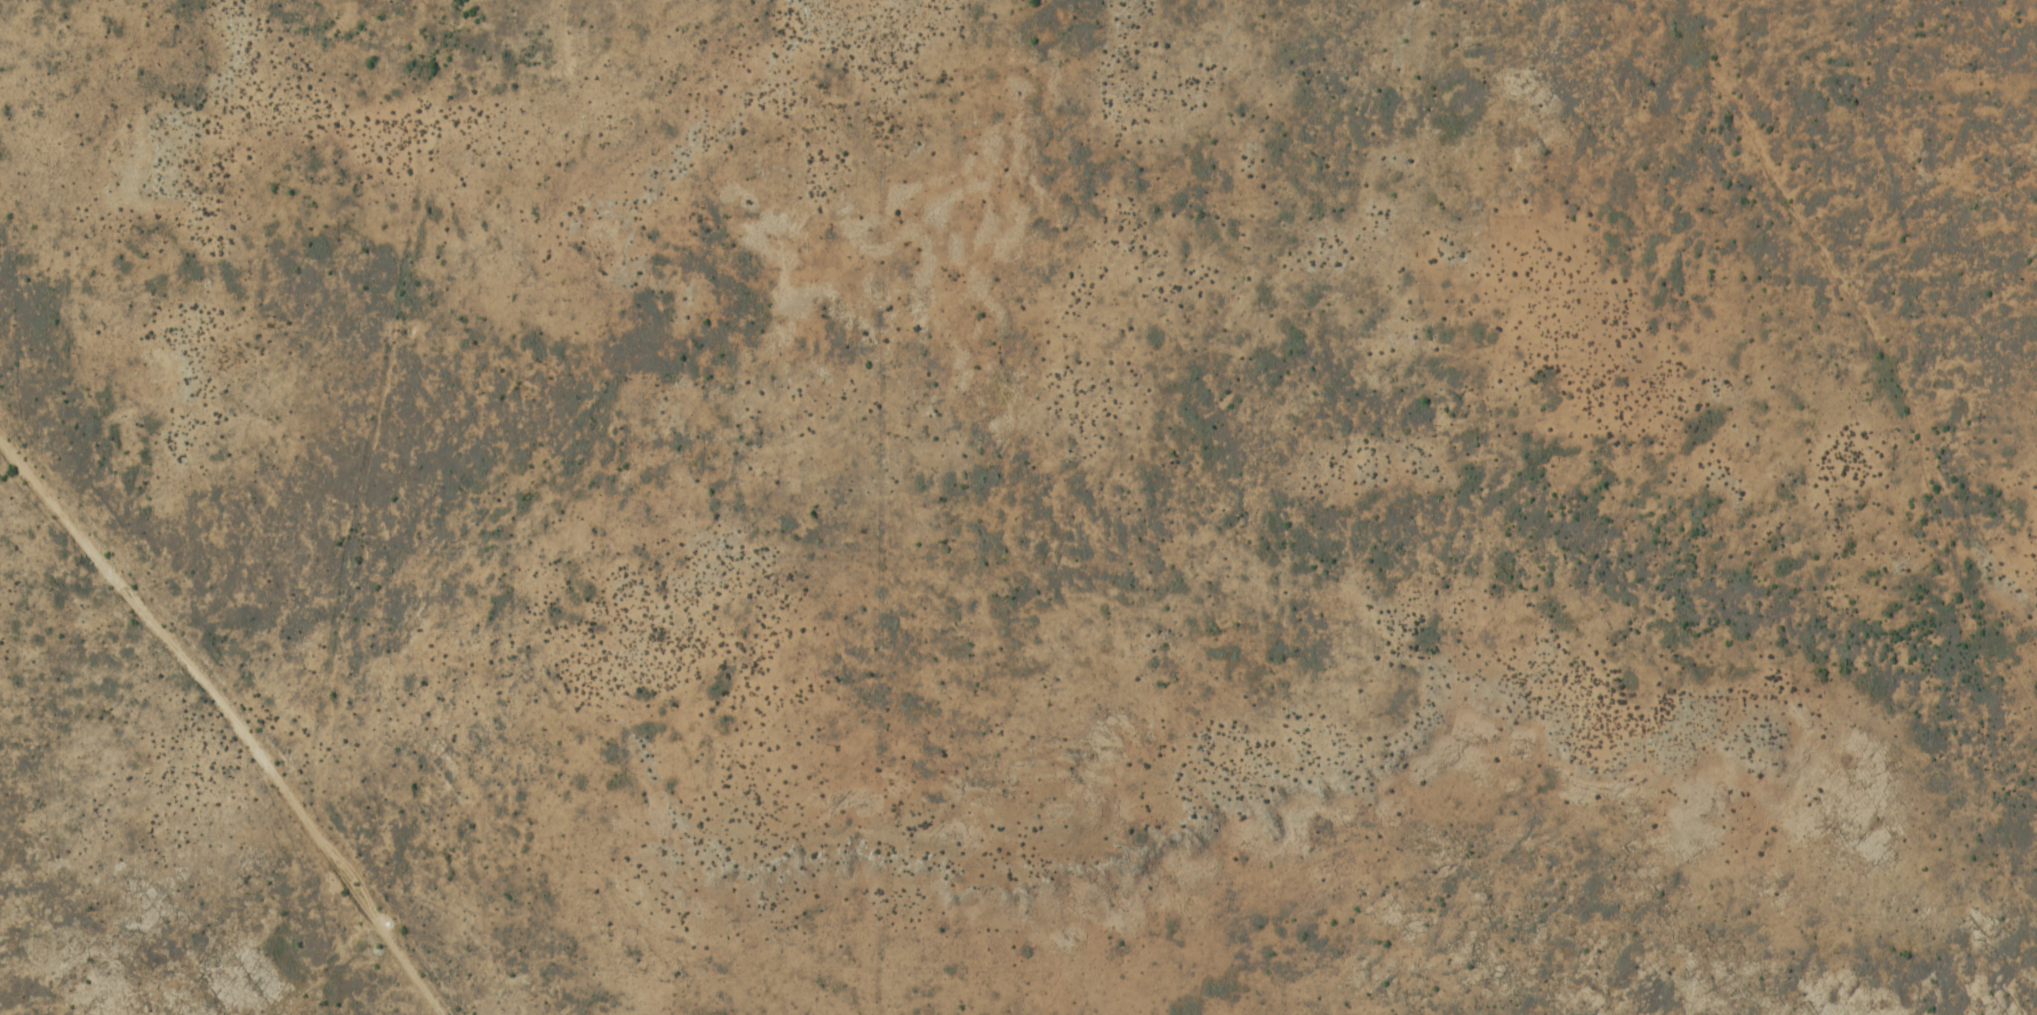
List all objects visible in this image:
road: (364, 481)
road: (161, 615)
road: (319, 970)

